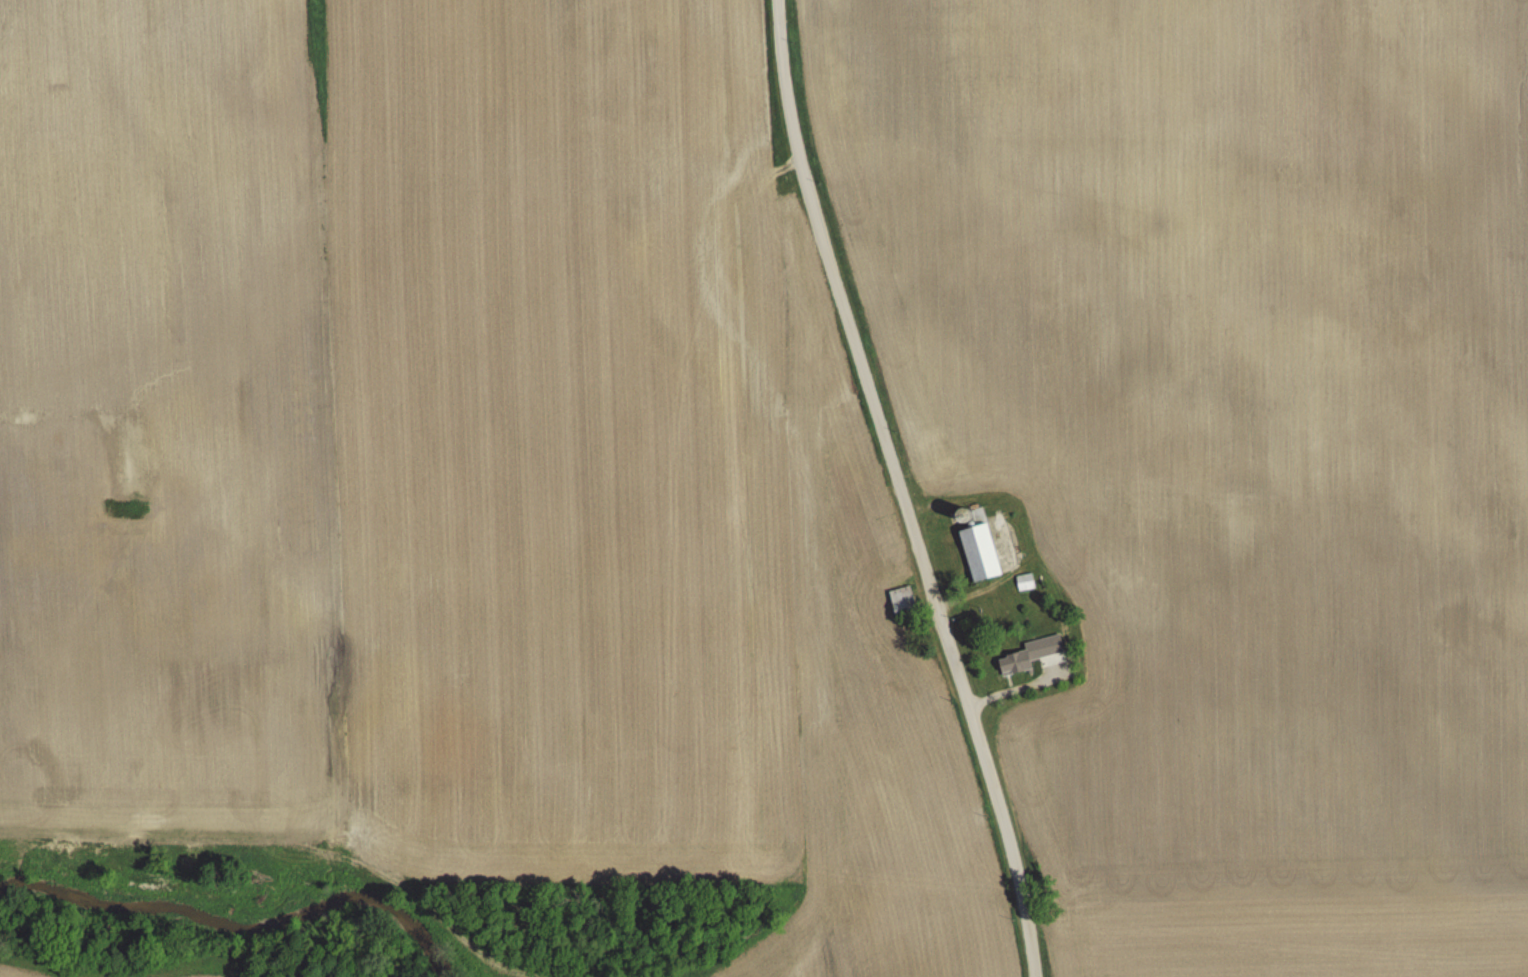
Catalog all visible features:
road: (902, 489)
building: (979, 553)
building: (1025, 582)
building: (902, 602)
building: (1016, 663)
road: (1022, 689)

